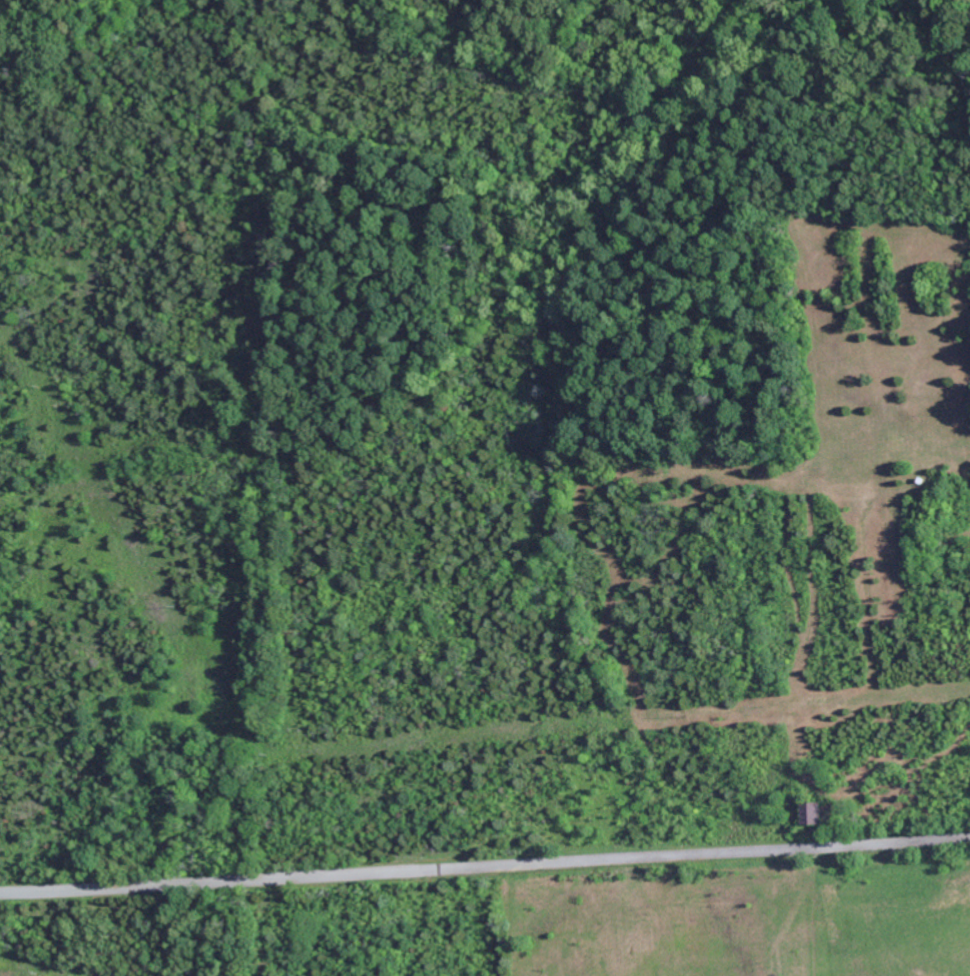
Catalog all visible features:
road: (485, 870)

